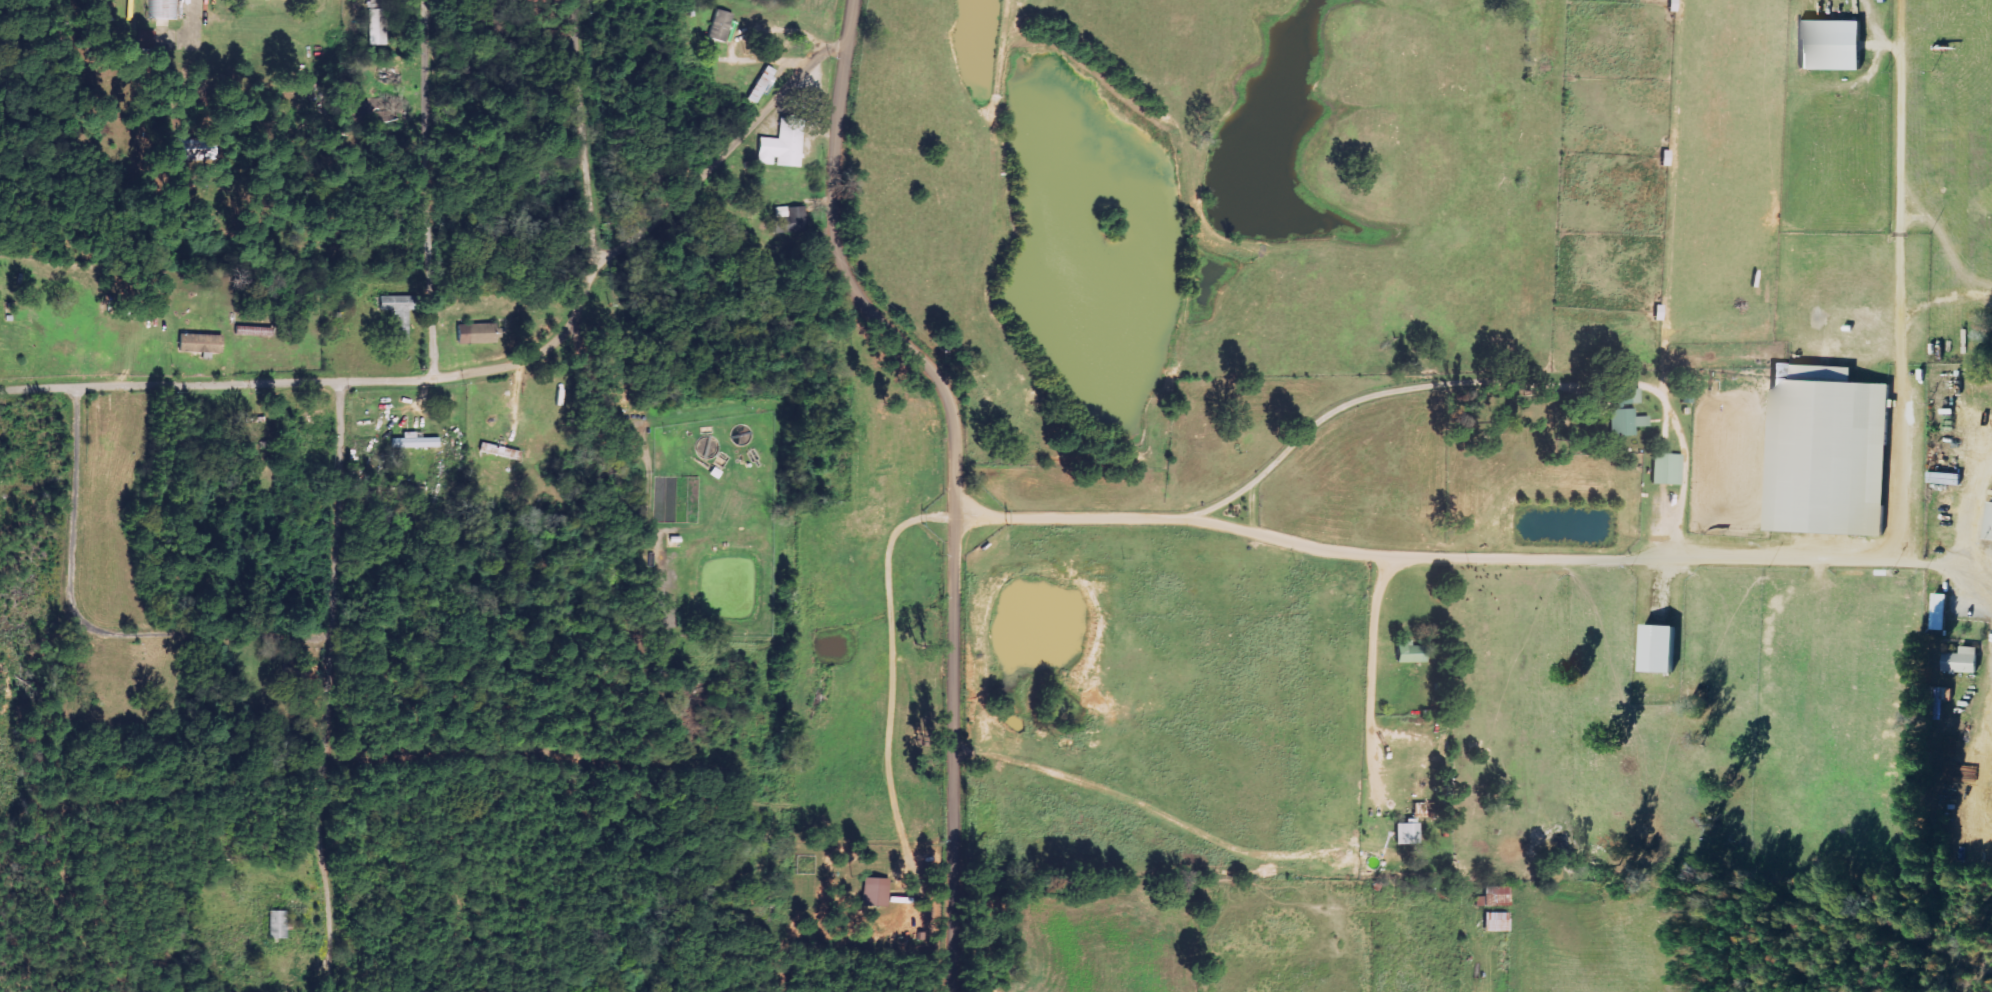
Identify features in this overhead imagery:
building: (163, 9)
building: (719, 25)
building: (1829, 45)
building: (760, 84)
road: (585, 131)
building: (782, 146)
building: (192, 150)
road: (428, 188)
building: (790, 213)
building: (396, 313)
building: (474, 333)
building: (199, 342)
road: (495, 368)
road: (1490, 382)
building: (1625, 412)
building: (414, 441)
building: (499, 451)
building: (1826, 451)
building: (1666, 468)
road: (955, 472)
building: (1943, 477)
road: (1969, 502)
building: (1988, 522)
road: (1450, 557)
road: (1970, 573)
building: (1939, 611)
road: (92, 627)
building: (1657, 647)
building: (1408, 652)
building: (1961, 660)
road: (338, 665)
building: (1408, 831)
building: (875, 891)
building: (1493, 897)
building: (1495, 922)
building: (277, 924)

